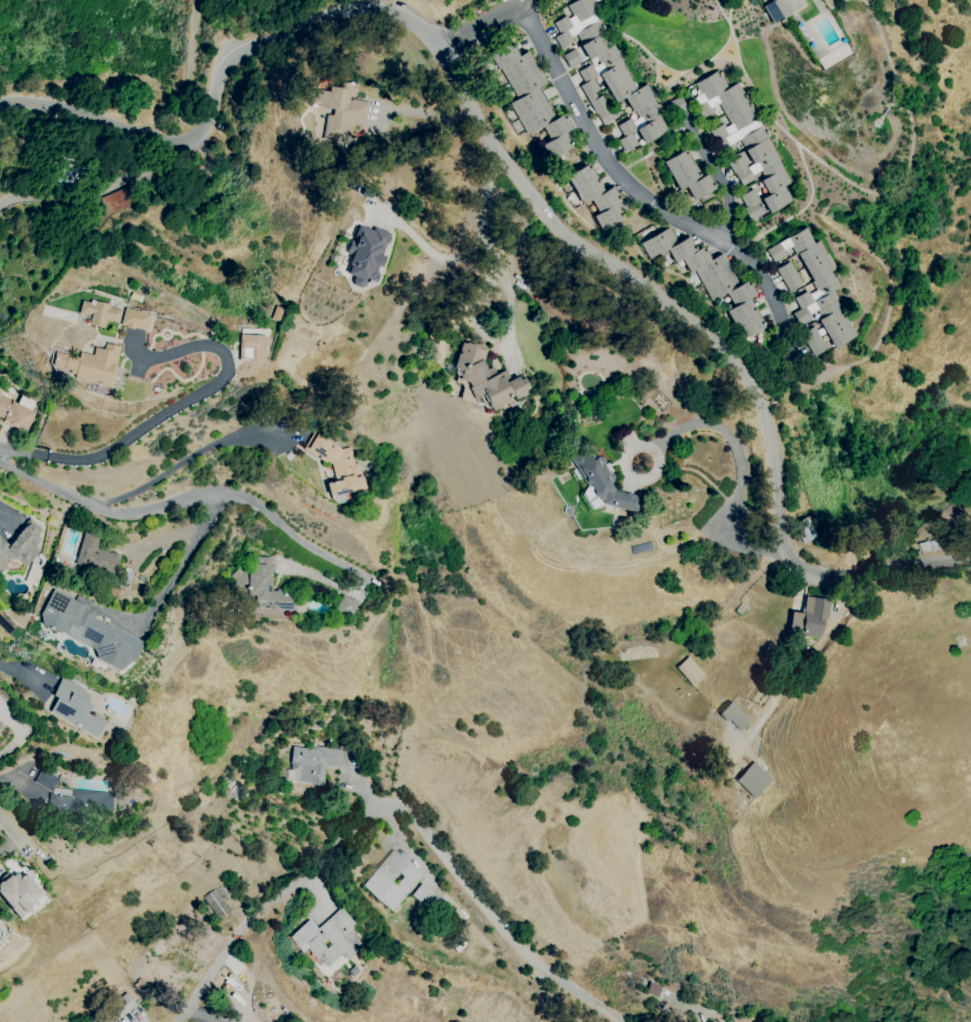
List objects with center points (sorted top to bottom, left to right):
road: (519, 0)
building: (776, 11)
building: (577, 14)
road: (481, 24)
building: (581, 32)
building: (596, 46)
park: (189, 55)
building: (504, 55)
building: (572, 59)
building: (601, 64)
building: (518, 67)
road: (184, 74)
building: (613, 75)
building: (527, 82)
building: (710, 87)
building: (589, 89)
building: (621, 89)
building: (638, 98)
building: (723, 101)
building: (528, 103)
building: (598, 103)
building: (678, 106)
building: (341, 111)
road: (423, 113)
building: (605, 116)
building: (640, 117)
building: (538, 118)
building: (735, 121)
building: (557, 127)
building: (650, 130)
building: (744, 137)
building: (627, 142)
building: (557, 145)
building: (750, 156)
building: (678, 162)
building: (759, 169)
building: (687, 176)
building: (581, 177)
road: (722, 178)
building: (773, 181)
road: (520, 184)
building: (700, 187)
road: (635, 190)
building: (589, 191)
road: (94, 194)
road: (484, 198)
building: (749, 198)
building: (605, 200)
building: (774, 200)
building: (115, 201)
building: (752, 212)
building: (608, 217)
building: (659, 243)
building: (790, 245)
building: (682, 249)
road: (432, 252)
building: (810, 254)
building: (367, 255)
building: (697, 259)
building: (819, 268)
building: (714, 269)
building: (785, 271)
building: (792, 282)
building: (723, 285)
building: (817, 290)
building: (742, 293)
road: (508, 300)
building: (816, 308)
building: (742, 311)
building: (99, 313)
building: (135, 319)
building: (832, 321)
building: (750, 326)
building: (840, 335)
building: (811, 336)
building: (817, 347)
building: (252, 348)
building: (91, 365)
building: (487, 378)
building: (0, 392)
building: (15, 415)
road: (166, 415)
road: (174, 465)
building: (339, 466)
road: (632, 476)
road: (741, 480)
building: (603, 483)
road: (185, 499)
road: (0, 514)
building: (808, 528)
building: (21, 545)
building: (96, 556)
road: (175, 572)
building: (260, 584)
building: (344, 606)
building: (810, 618)
building: (90, 630)
building: (689, 671)
road: (23, 676)
building: (3, 706)
building: (75, 708)
building: (733, 717)
building: (1, 724)
building: (315, 763)
building: (752, 780)
building: (83, 803)
road: (13, 831)
road: (343, 837)
building: (392, 880)
building: (19, 893)
building: (424, 897)
building: (217, 903)
building: (327, 938)
road: (571, 984)
building: (122, 1005)

